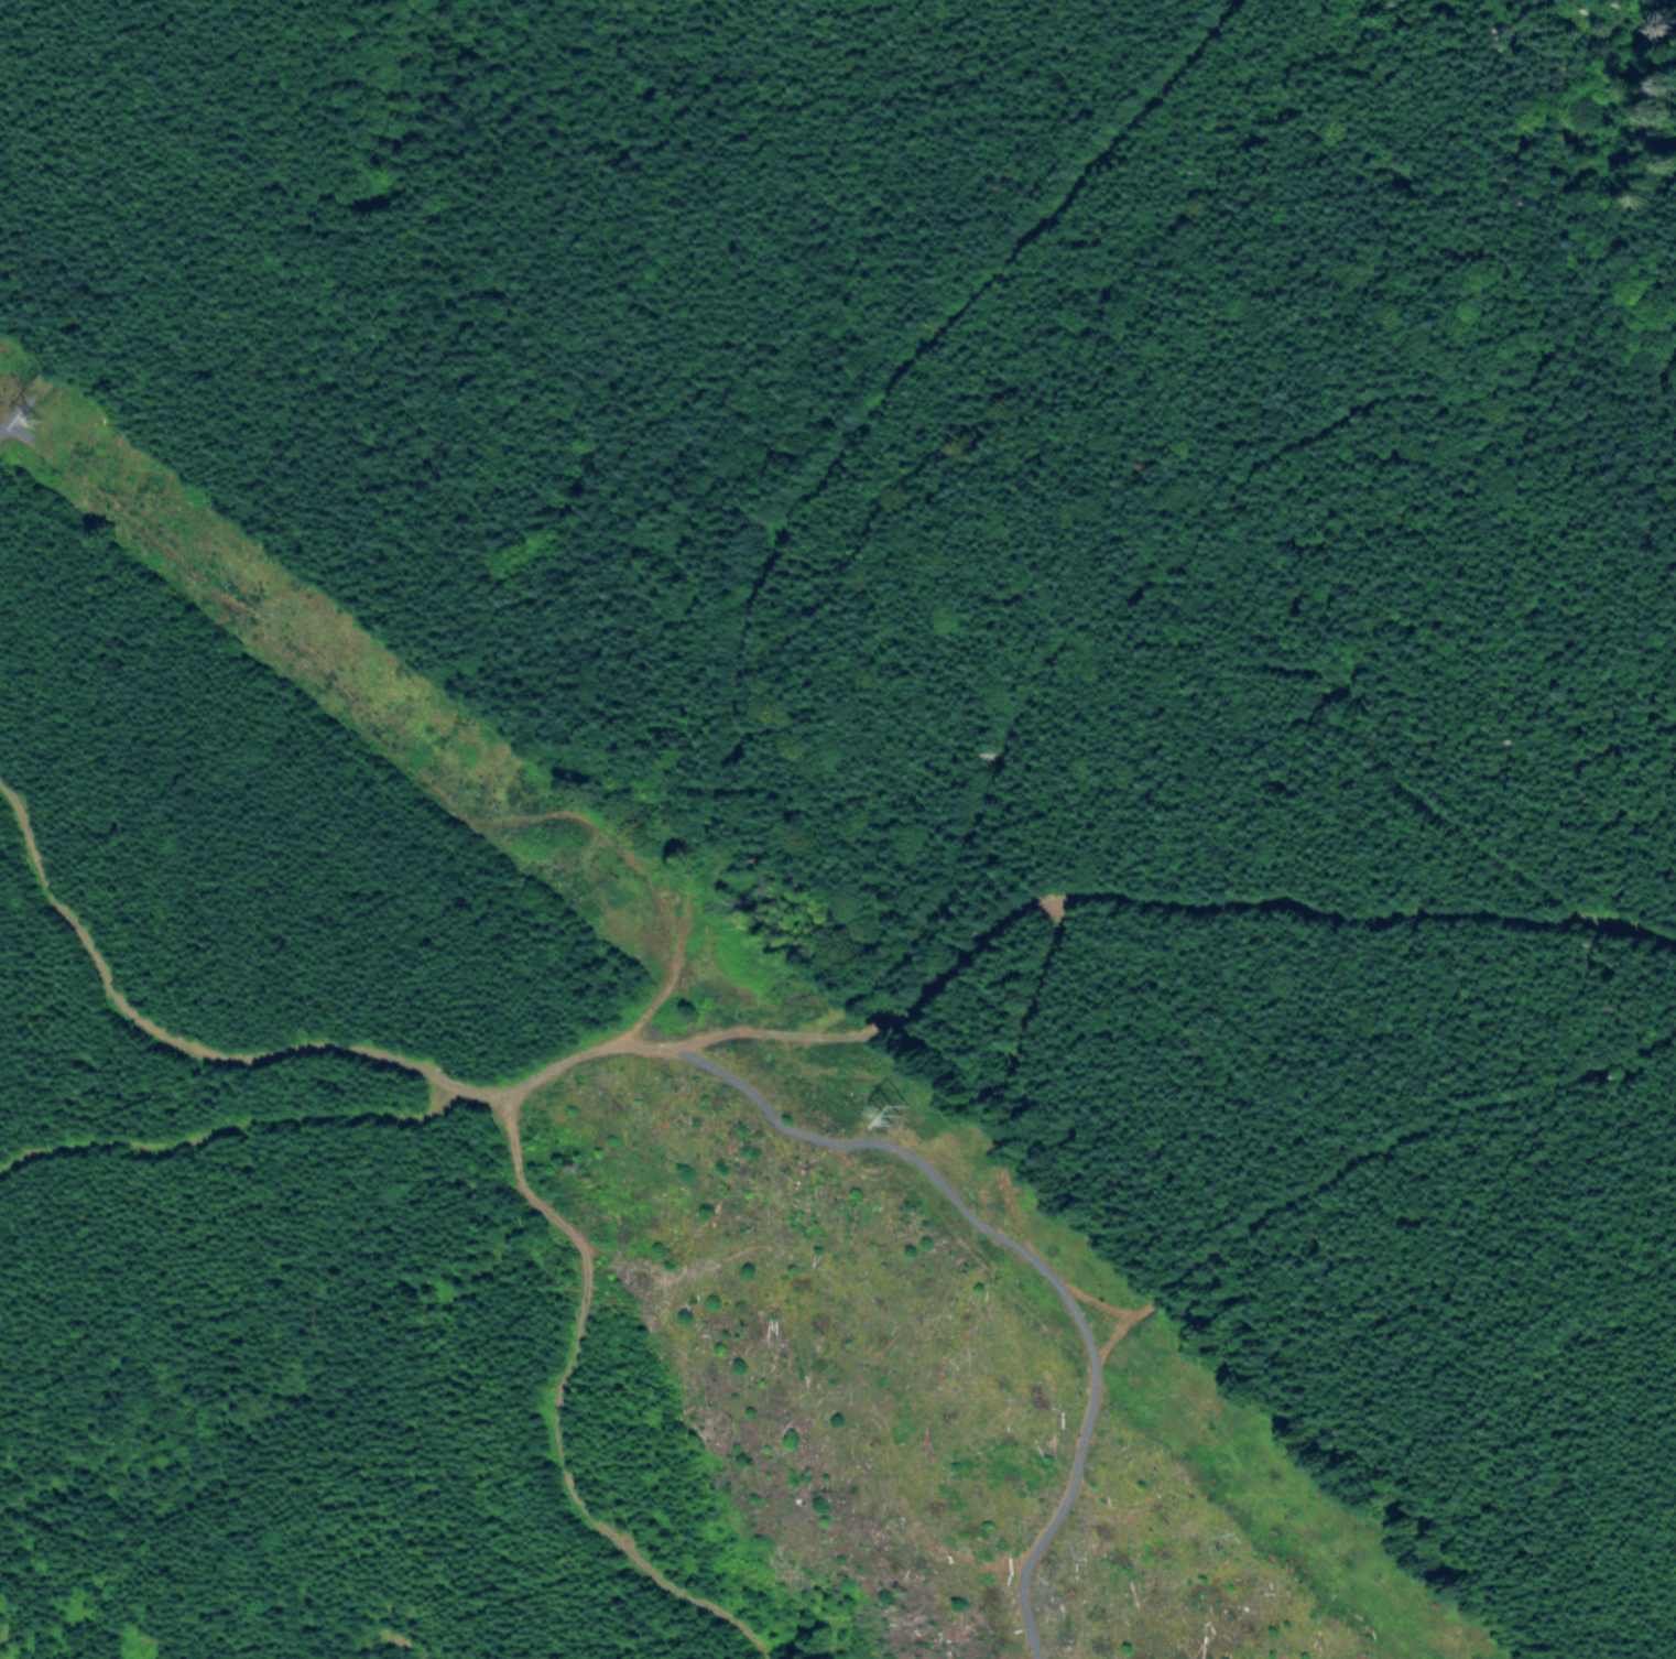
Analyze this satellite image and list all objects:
power tower: (25, 415)
road: (538, 1099)
power tower: (893, 1110)

